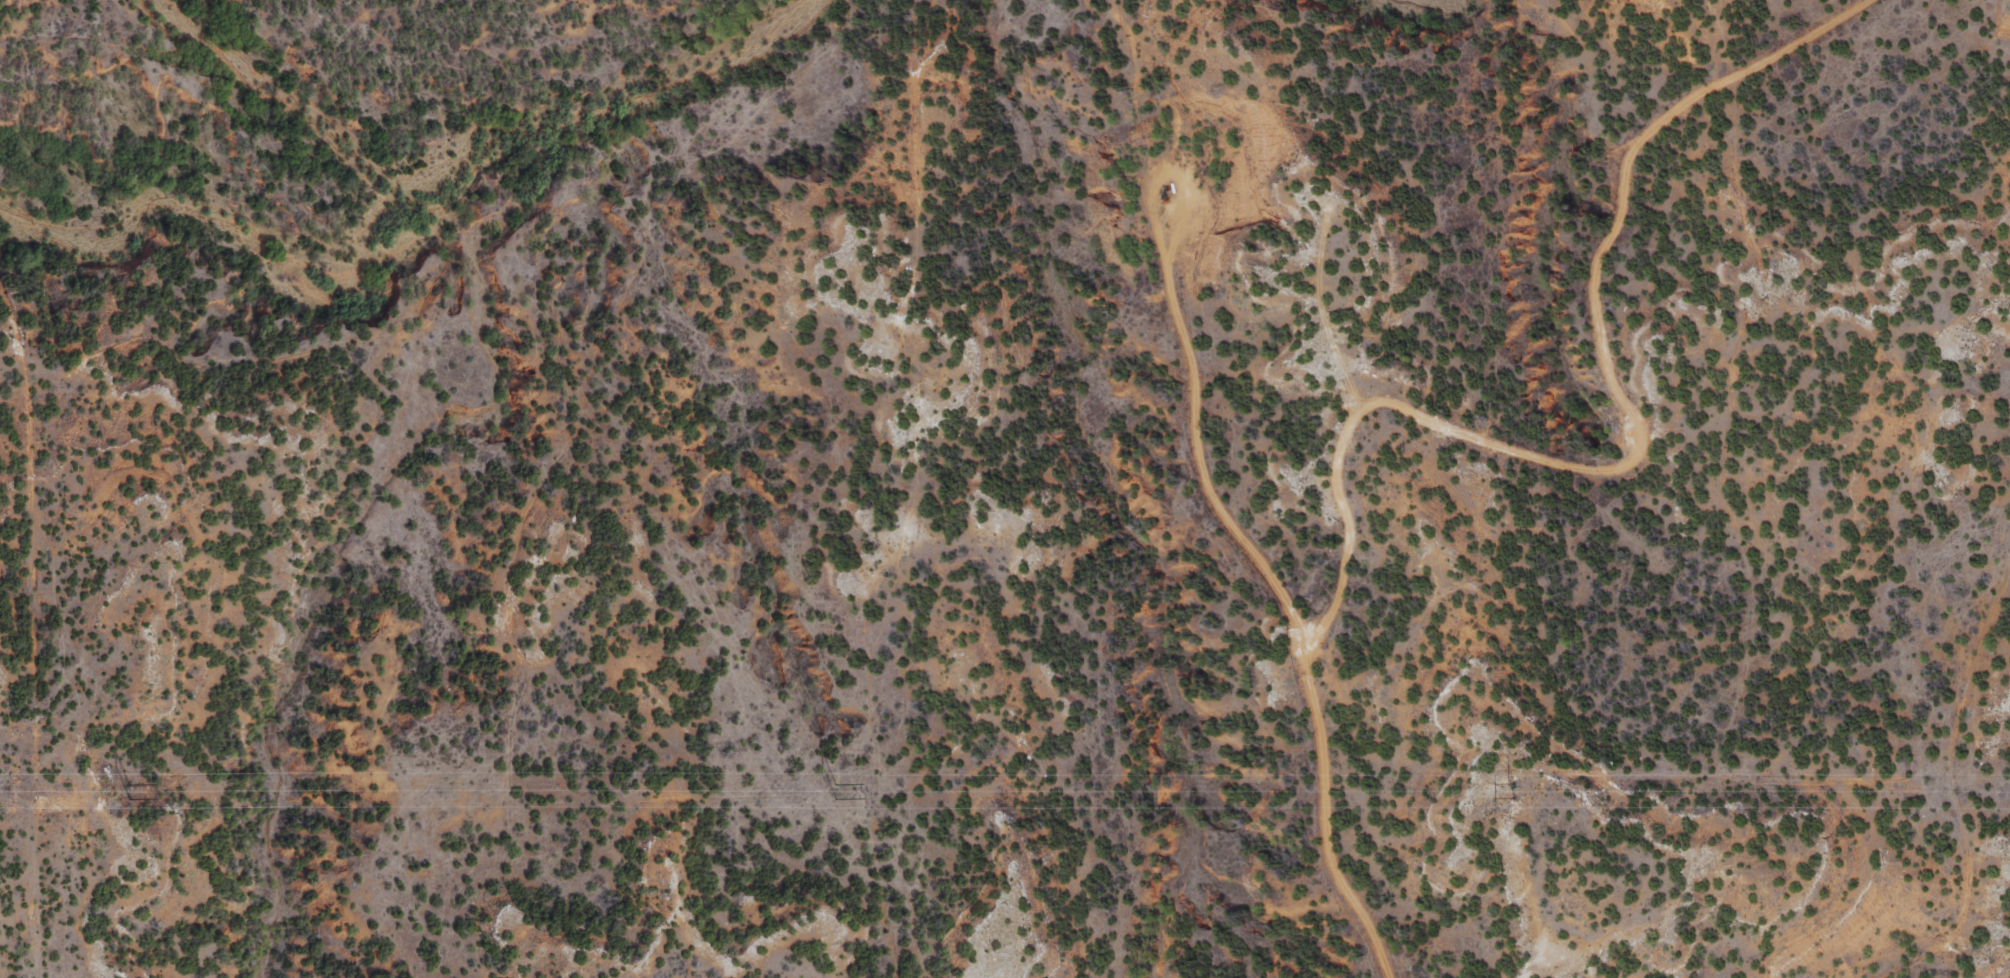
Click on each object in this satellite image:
power tower: (128, 790)
power tower: (1511, 790)
power tower: (846, 793)

